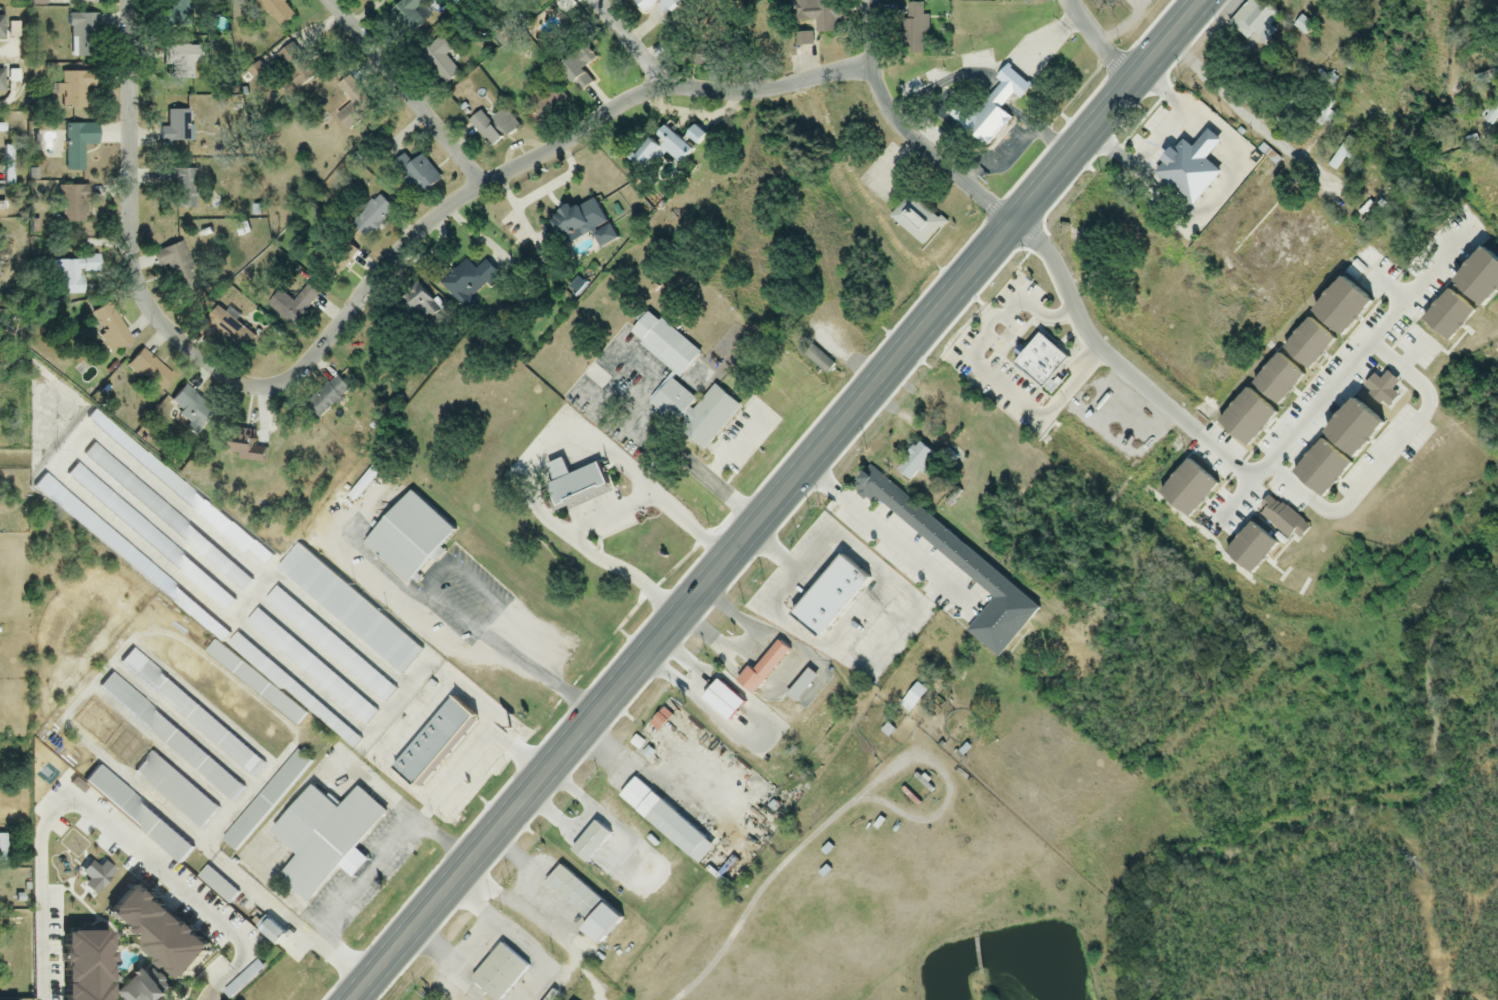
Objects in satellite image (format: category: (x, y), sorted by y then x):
building: (526, 2)
building: (644, 9)
building: (276, 11)
building: (185, 13)
building: (819, 14)
building: (409, 15)
building: (1301, 24)
building: (1254, 26)
building: (0, 27)
building: (914, 28)
building: (83, 36)
building: (803, 38)
road: (1097, 42)
road: (629, 43)
road: (5, 54)
building: (438, 60)
building: (179, 63)
building: (577, 68)
building: (72, 89)
road: (405, 92)
building: (543, 103)
building: (989, 107)
building: (1490, 112)
building: (1323, 117)
building: (177, 126)
building: (492, 127)
road: (904, 129)
building: (694, 134)
road: (1164, 139)
building: (81, 147)
road: (1014, 147)
building: (657, 149)
building: (1336, 159)
building: (420, 174)
building: (180, 186)
road: (1229, 196)
building: (72, 204)
building: (371, 217)
building: (916, 219)
building: (566, 223)
building: (336, 259)
building: (177, 267)
building: (1186, 271)
building: (1146, 273)
building: (72, 274)
building: (1306, 274)
building: (467, 282)
road: (358, 299)
building: (291, 305)
building: (416, 305)
building: (1029, 323)
building: (109, 327)
building: (229, 329)
building: (662, 343)
building: (818, 360)
road: (1118, 363)
building: (148, 370)
road: (988, 379)
road: (1341, 380)
building: (326, 397)
building: (192, 409)
building: (693, 412)
building: (243, 447)
road: (541, 458)
road: (1389, 460)
building: (913, 462)
building: (571, 485)
road: (774, 499)
road: (607, 514)
building: (402, 534)
road: (888, 534)
building: (814, 557)
building: (346, 607)
road: (447, 608)
road: (916, 614)
road: (748, 641)
building: (761, 667)
road: (695, 682)
building: (253, 683)
building: (800, 686)
building: (913, 697)
building: (719, 701)
building: (190, 713)
building: (657, 722)
road: (761, 731)
building: (169, 737)
building: (426, 741)
road: (476, 758)
road: (647, 773)
road: (948, 784)
building: (175, 790)
building: (264, 798)
building: (134, 814)
road: (580, 817)
road: (105, 821)
building: (665, 822)
building: (322, 838)
building: (588, 842)
road: (526, 862)
road: (363, 873)
building: (215, 884)
building: (572, 894)
road: (757, 895)
road: (544, 923)
building: (146, 931)
road: (515, 938)
road: (443, 961)
building: (497, 973)
road: (568, 973)

